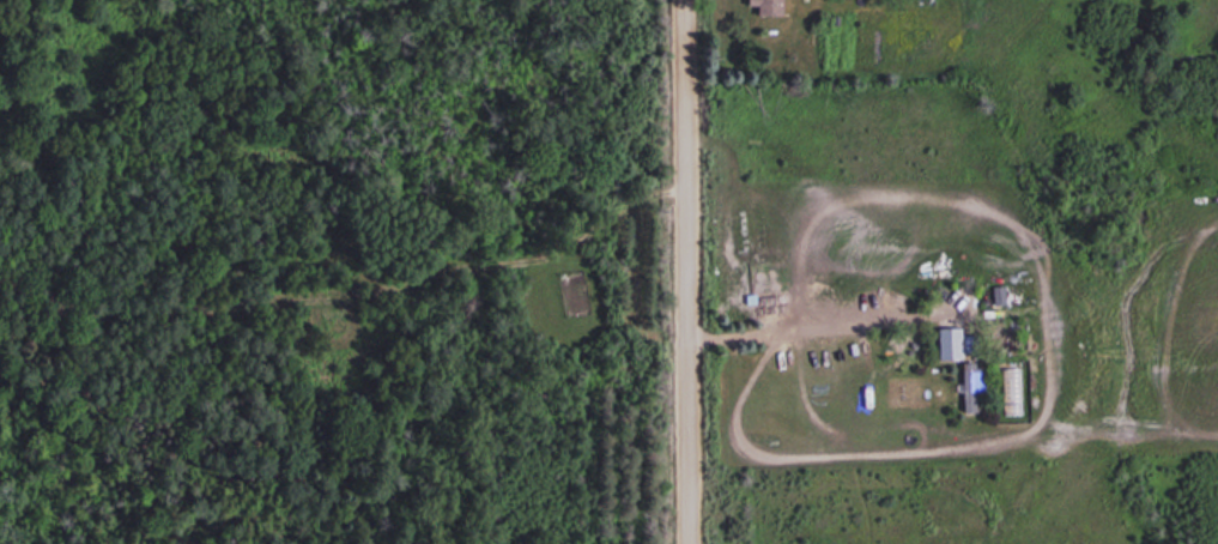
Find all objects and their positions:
building: (766, 6)
road: (691, 272)
building: (947, 343)
building: (969, 343)
building: (968, 386)

